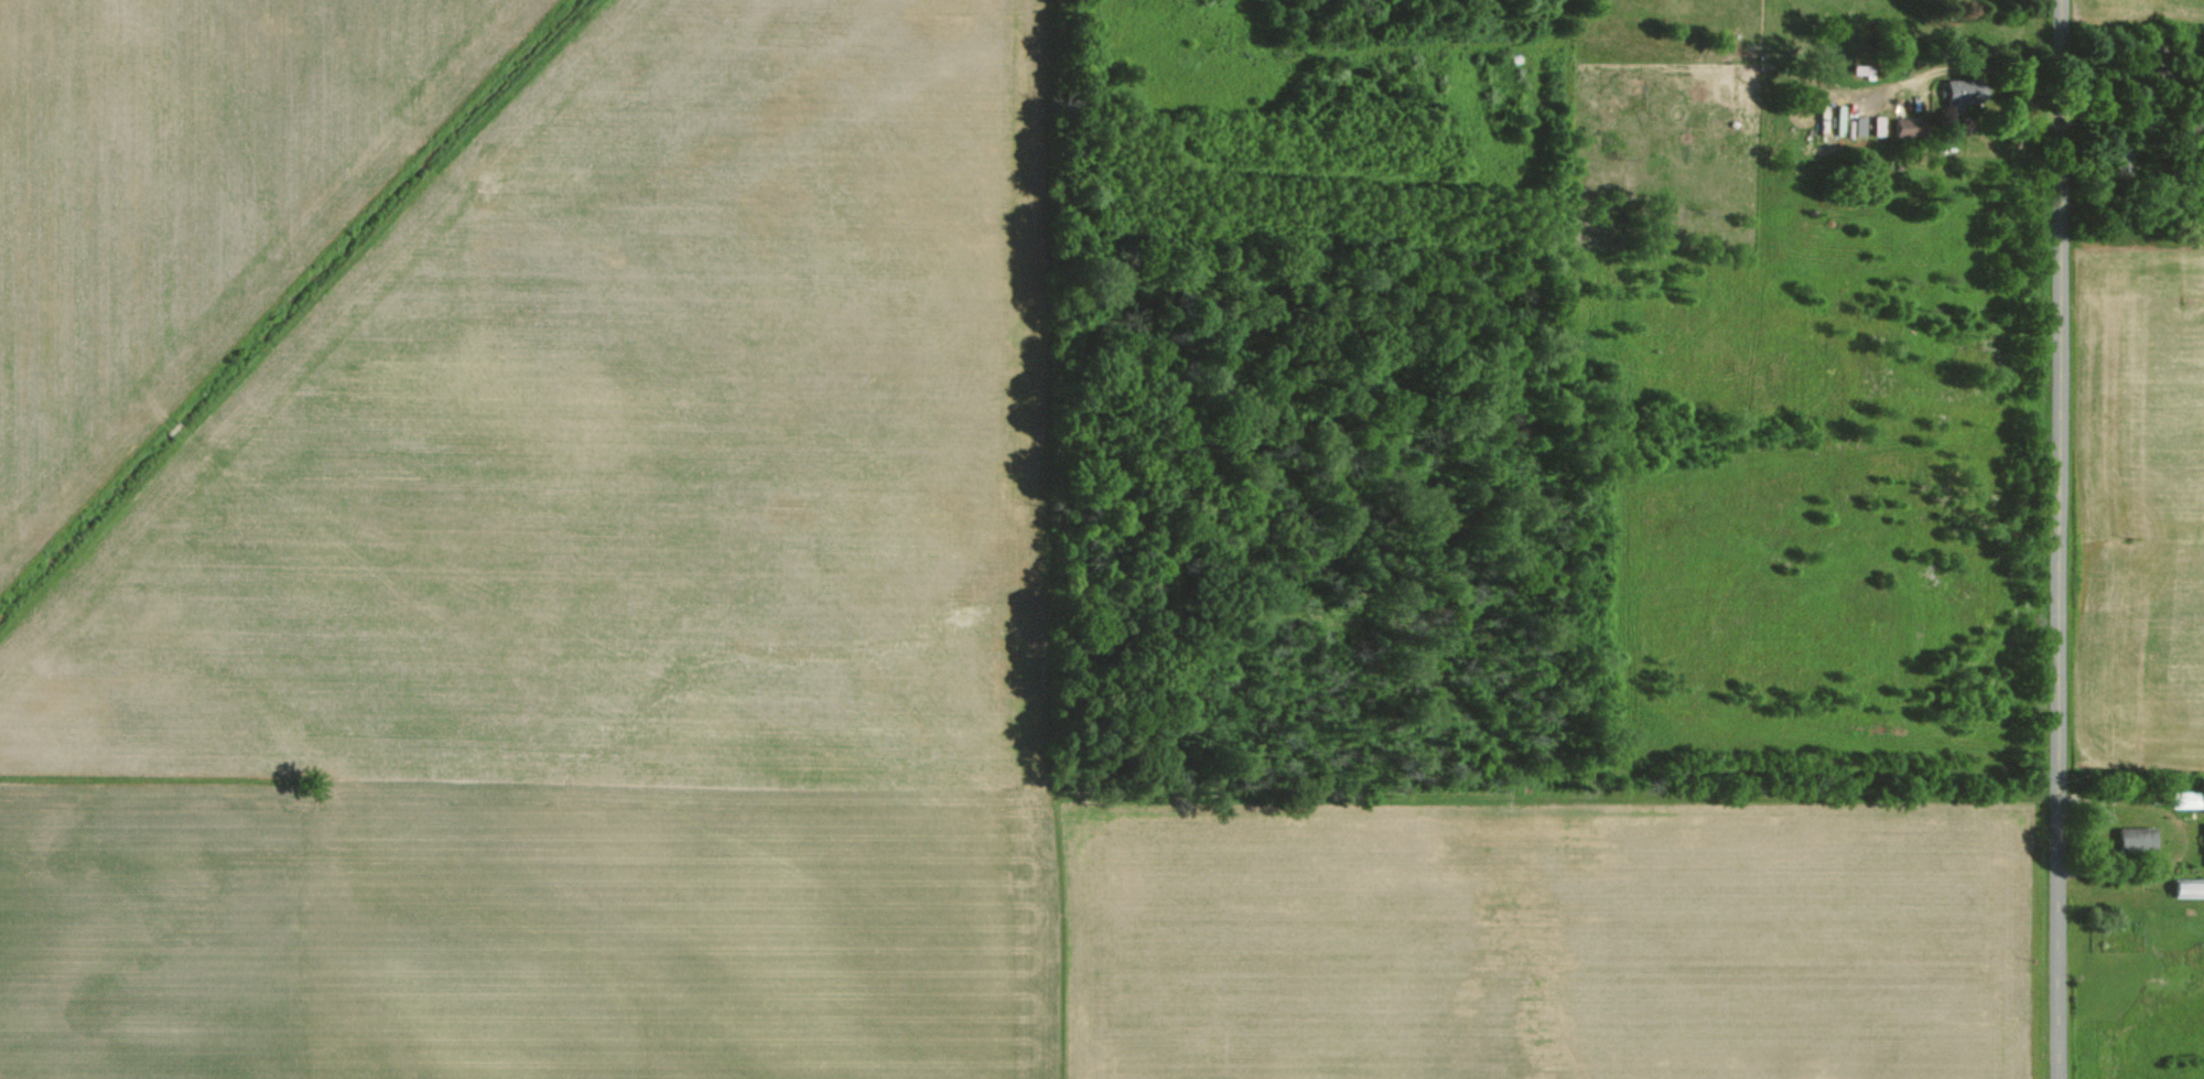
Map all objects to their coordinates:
building: (1954, 97)
building: (1902, 126)
road: (2067, 539)
building: (2135, 840)
building: (2186, 887)

